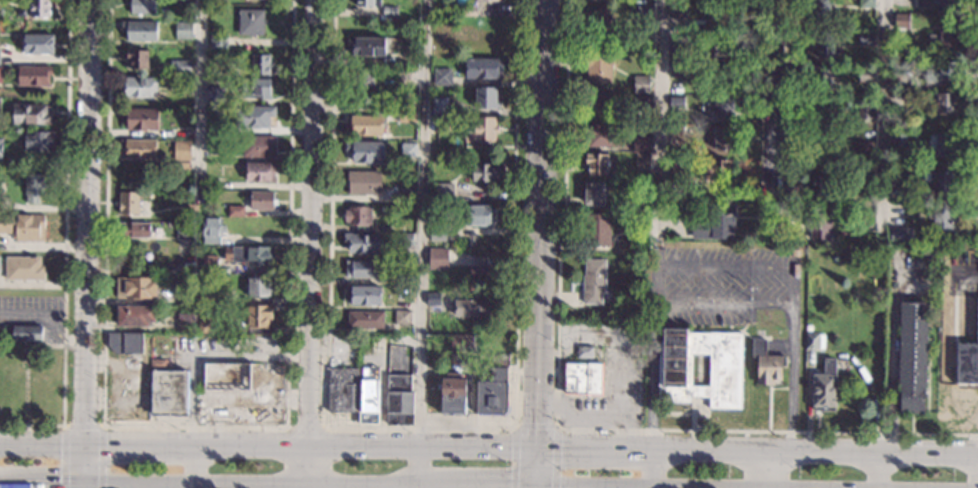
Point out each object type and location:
building: (485, 0)
building: (181, 1)
building: (217, 1)
building: (713, 1)
building: (679, 2)
building: (368, 3)
building: (452, 3)
building: (867, 3)
building: (939, 4)
building: (39, 7)
building: (142, 7)
building: (390, 10)
building: (822, 10)
building: (468, 11)
building: (678, 13)
building: (187, 15)
building: (643, 15)
building: (597, 17)
building: (721, 20)
building: (902, 20)
building: (251, 21)
building: (441, 25)
building: (183, 29)
building: (140, 30)
building: (944, 37)
building: (866, 38)
building: (218, 41)
building: (38, 43)
building: (678, 43)
building: (826, 44)
building: (367, 46)
building: (442, 47)
building: (714, 49)
building: (138, 57)
building: (411, 58)
building: (216, 59)
building: (260, 64)
building: (903, 64)
building: (182, 67)
building: (600, 67)
building: (484, 68)
building: (948, 69)
building: (679, 70)
building: (0, 74)
building: (405, 74)
building: (866, 74)
building: (33, 75)
building: (442, 77)
building: (720, 79)
building: (823, 79)
building: (362, 80)
building: (182, 83)
building: (641, 84)
building: (137, 86)
building: (256, 88)
building: (899, 94)
building: (215, 95)
building: (487, 98)
road: (201, 100)
building: (676, 101)
building: (643, 102)
building: (945, 102)
building: (191, 103)
building: (605, 103)
building: (440, 105)
building: (723, 107)
building: (866, 110)
building: (0, 112)
building: (407, 112)
building: (31, 114)
road: (768, 114)
building: (253, 116)
building: (141, 118)
road: (885, 118)
road: (659, 119)
building: (820, 119)
building: (442, 123)
building: (364, 125)
building: (676, 128)
building: (482, 130)
building: (604, 134)
building: (723, 137)
building: (899, 137)
building: (40, 141)
building: (642, 143)
building: (942, 143)
building: (216, 144)
building: (1, 146)
building: (258, 146)
building: (865, 148)
building: (137, 149)
building: (408, 150)
building: (366, 151)
building: (821, 152)
building: (182, 154)
building: (643, 159)
building: (597, 163)
building: (675, 164)
building: (714, 169)
building: (260, 171)
building: (486, 172)
building: (898, 174)
building: (865, 180)
building: (940, 181)
building: (212, 182)
building: (364, 182)
building: (34, 187)
building: (819, 187)
building: (640, 189)
building: (443, 191)
building: (594, 193)
building: (406, 197)
building: (262, 200)
building: (128, 202)
building: (192, 211)
building: (236, 211)
building: (479, 215)
building: (358, 216)
building: (943, 216)
building: (863, 218)
building: (716, 223)
road: (313, 225)
building: (819, 225)
building: (23, 226)
road: (540, 226)
building: (134, 229)
building: (184, 230)
building: (212, 230)
building: (597, 230)
building: (438, 233)
building: (901, 235)
building: (405, 239)
building: (362, 243)
road: (66, 244)
road: (87, 244)
road: (421, 244)
building: (250, 255)
building: (438, 258)
building: (206, 264)
road: (726, 266)
building: (24, 268)
building: (361, 268)
building: (480, 271)
road: (967, 275)
building: (407, 277)
building: (594, 281)
building: (259, 286)
building: (136, 287)
building: (403, 292)
building: (187, 294)
building: (209, 294)
building: (364, 295)
building: (432, 298)
building: (475, 307)
building: (135, 315)
building: (258, 315)
building: (402, 317)
building: (752, 318)
road: (47, 319)
building: (365, 319)
building: (186, 321)
building: (205, 324)
building: (27, 332)
building: (127, 341)
building: (811, 341)
building: (462, 342)
road: (619, 351)
building: (585, 352)
building: (912, 355)
building: (968, 355)
road: (252, 357)
road: (895, 359)
building: (157, 362)
building: (766, 363)
building: (725, 369)
building: (226, 377)
building: (583, 379)
building: (342, 389)
building: (369, 389)
building: (824, 390)
building: (167, 392)
building: (453, 393)
building: (492, 393)
building: (399, 400)
building: (431, 400)
road: (580, 405)
road: (191, 412)
road: (557, 423)
road: (84, 426)
road: (196, 427)
road: (306, 427)
road: (422, 428)
road: (536, 428)
building: (602, 431)
traffic signals: (84, 442)
road: (154, 444)
road: (423, 451)
traffic signals: (538, 452)
road: (758, 455)
road: (744, 459)
road: (967, 461)
road: (308, 467)
road: (538, 469)
road: (651, 470)
road: (765, 471)
road: (876, 472)
traffic signals: (85, 483)
road: (153, 483)
road: (366, 484)
road: (308, 486)
road: (427, 486)
road: (480, 486)
road: (538, 487)
traffic signals: (538, 487)
road: (651, 487)

